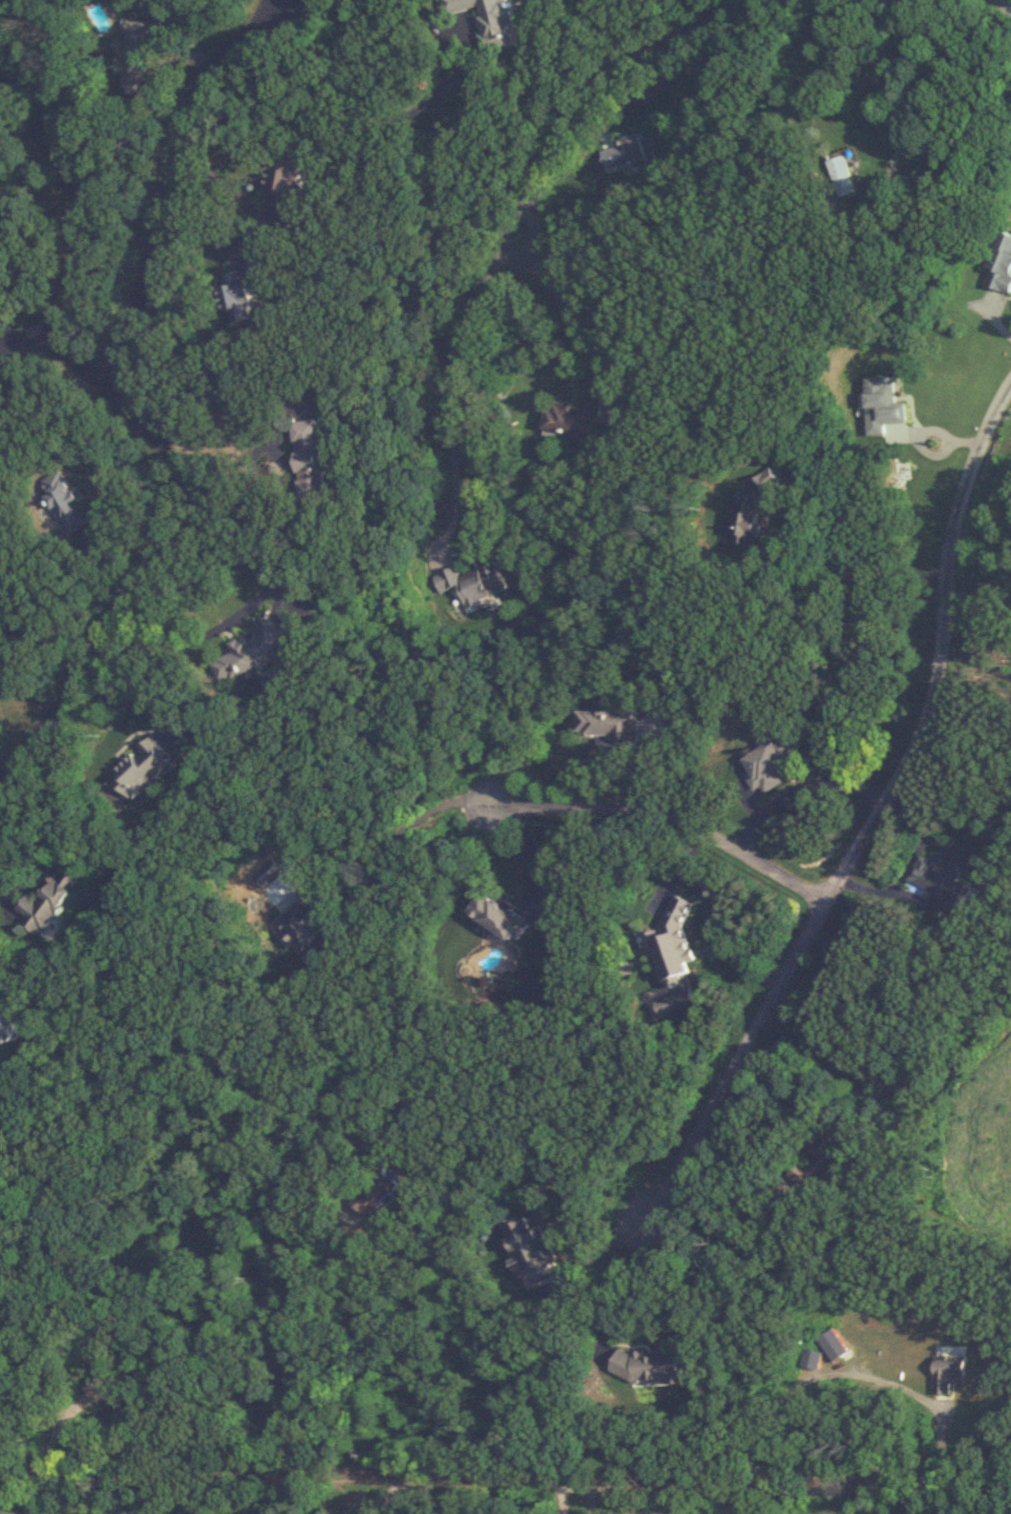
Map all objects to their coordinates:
road: (1000, 8)
road: (259, 15)
road: (281, 16)
building: (497, 21)
building: (136, 59)
road: (924, 105)
road: (383, 111)
building: (625, 152)
building: (844, 175)
building: (287, 184)
road: (162, 196)
road: (507, 224)
building: (1001, 261)
building: (246, 289)
road: (554, 297)
road: (25, 344)
building: (574, 418)
road: (148, 432)
building: (315, 461)
building: (71, 502)
road: (237, 507)
building: (755, 507)
road: (859, 568)
building: (478, 584)
road: (245, 607)
building: (256, 653)
road: (975, 664)
building: (611, 725)
building: (774, 766)
building: (144, 768)
road: (797, 790)
road: (670, 816)
road: (394, 838)
road: (53, 841)
road: (531, 847)
road: (841, 871)
building: (943, 875)
building: (52, 900)
building: (502, 917)
road: (708, 919)
building: (306, 929)
building: (676, 940)
building: (8, 1030)
building: (824, 1161)
road: (736, 1179)
building: (535, 1249)
building: (833, 1345)
road: (352, 1353)
building: (810, 1358)
building: (652, 1365)
building: (950, 1372)
road: (849, 1373)
building: (109, 1381)
road: (869, 1430)
road: (505, 1479)
road: (151, 1495)
road: (386, 1497)
road: (558, 1497)
road: (590, 1498)

